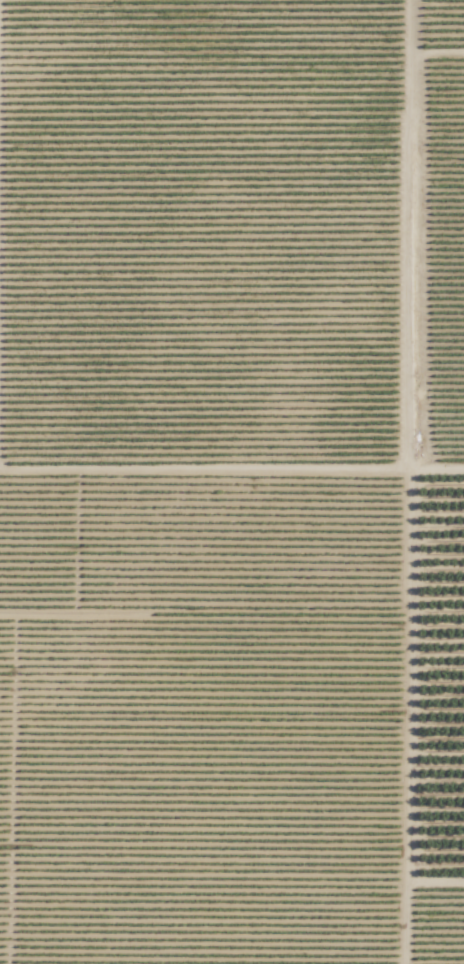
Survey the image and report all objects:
road: (407, 482)

